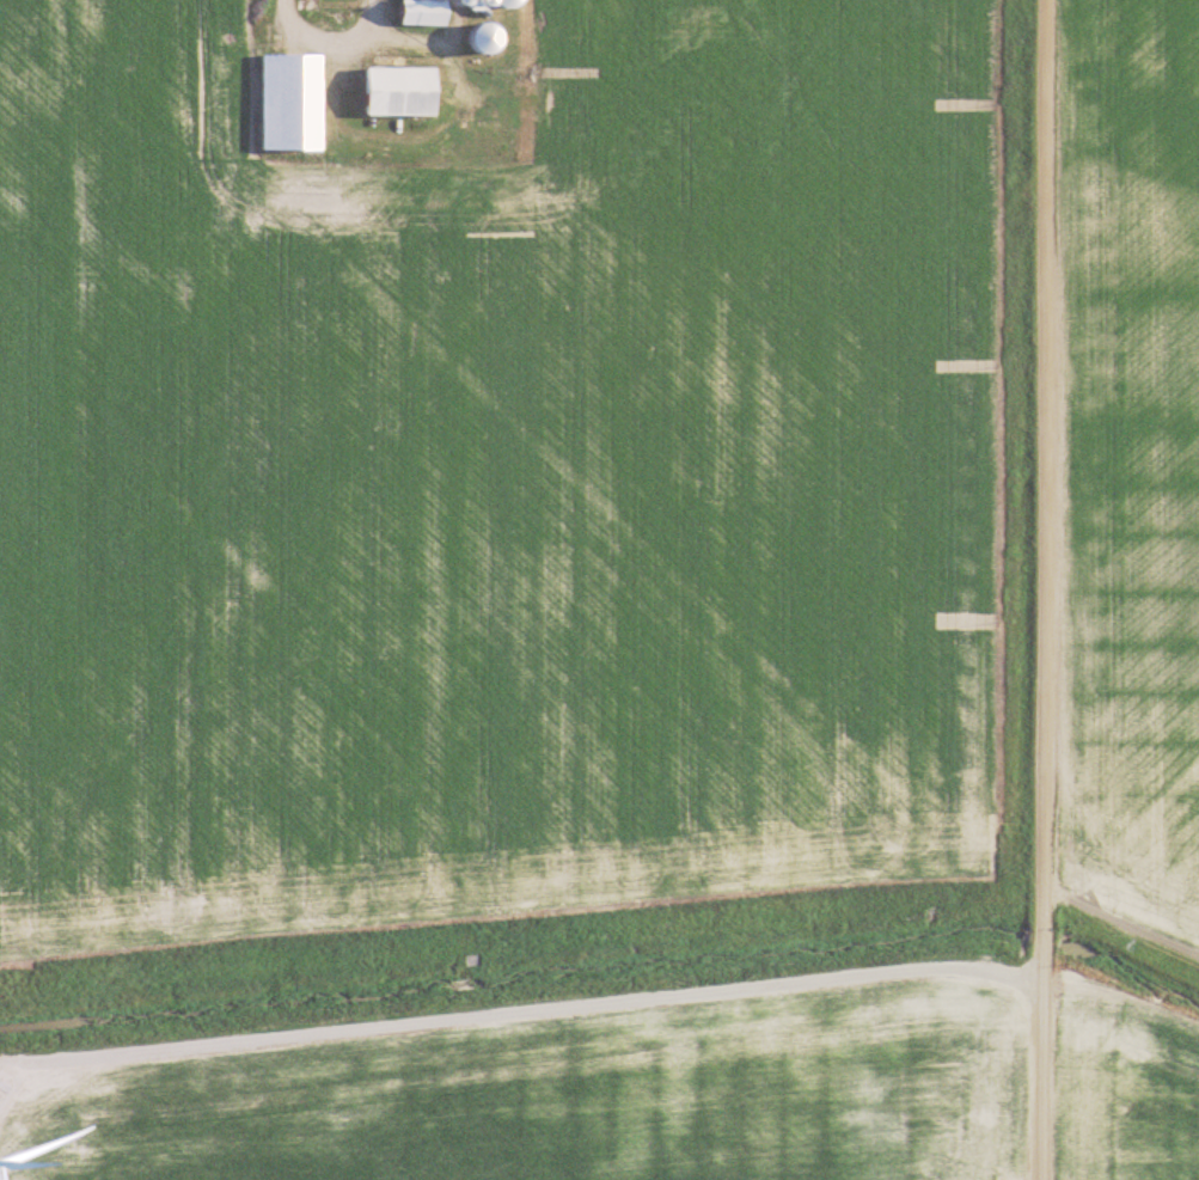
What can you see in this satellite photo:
building: (479, 2)
building: (509, 2)
building: (427, 12)
road: (335, 35)
building: (489, 37)
building: (402, 90)
building: (293, 103)
road: (1042, 589)
road: (522, 997)

